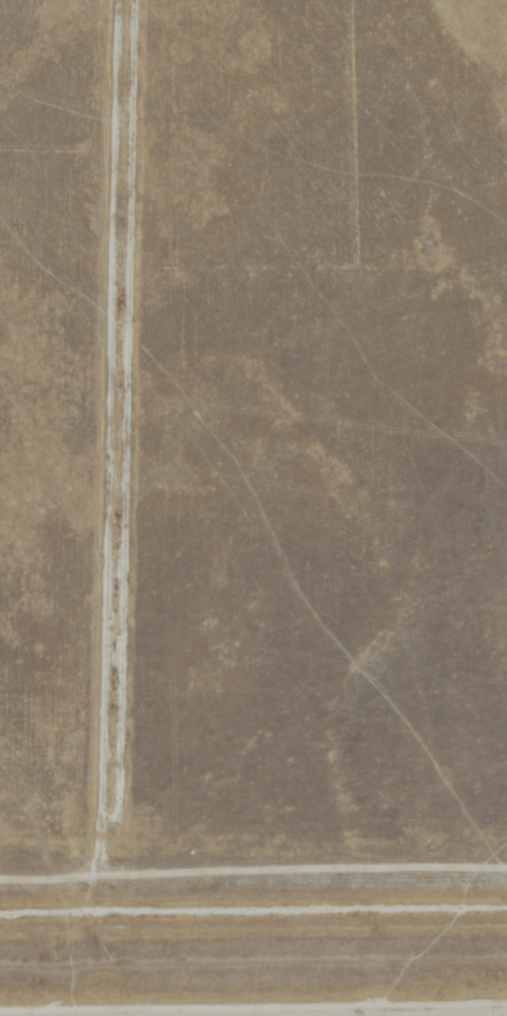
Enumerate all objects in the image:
crop: (249, 997)

